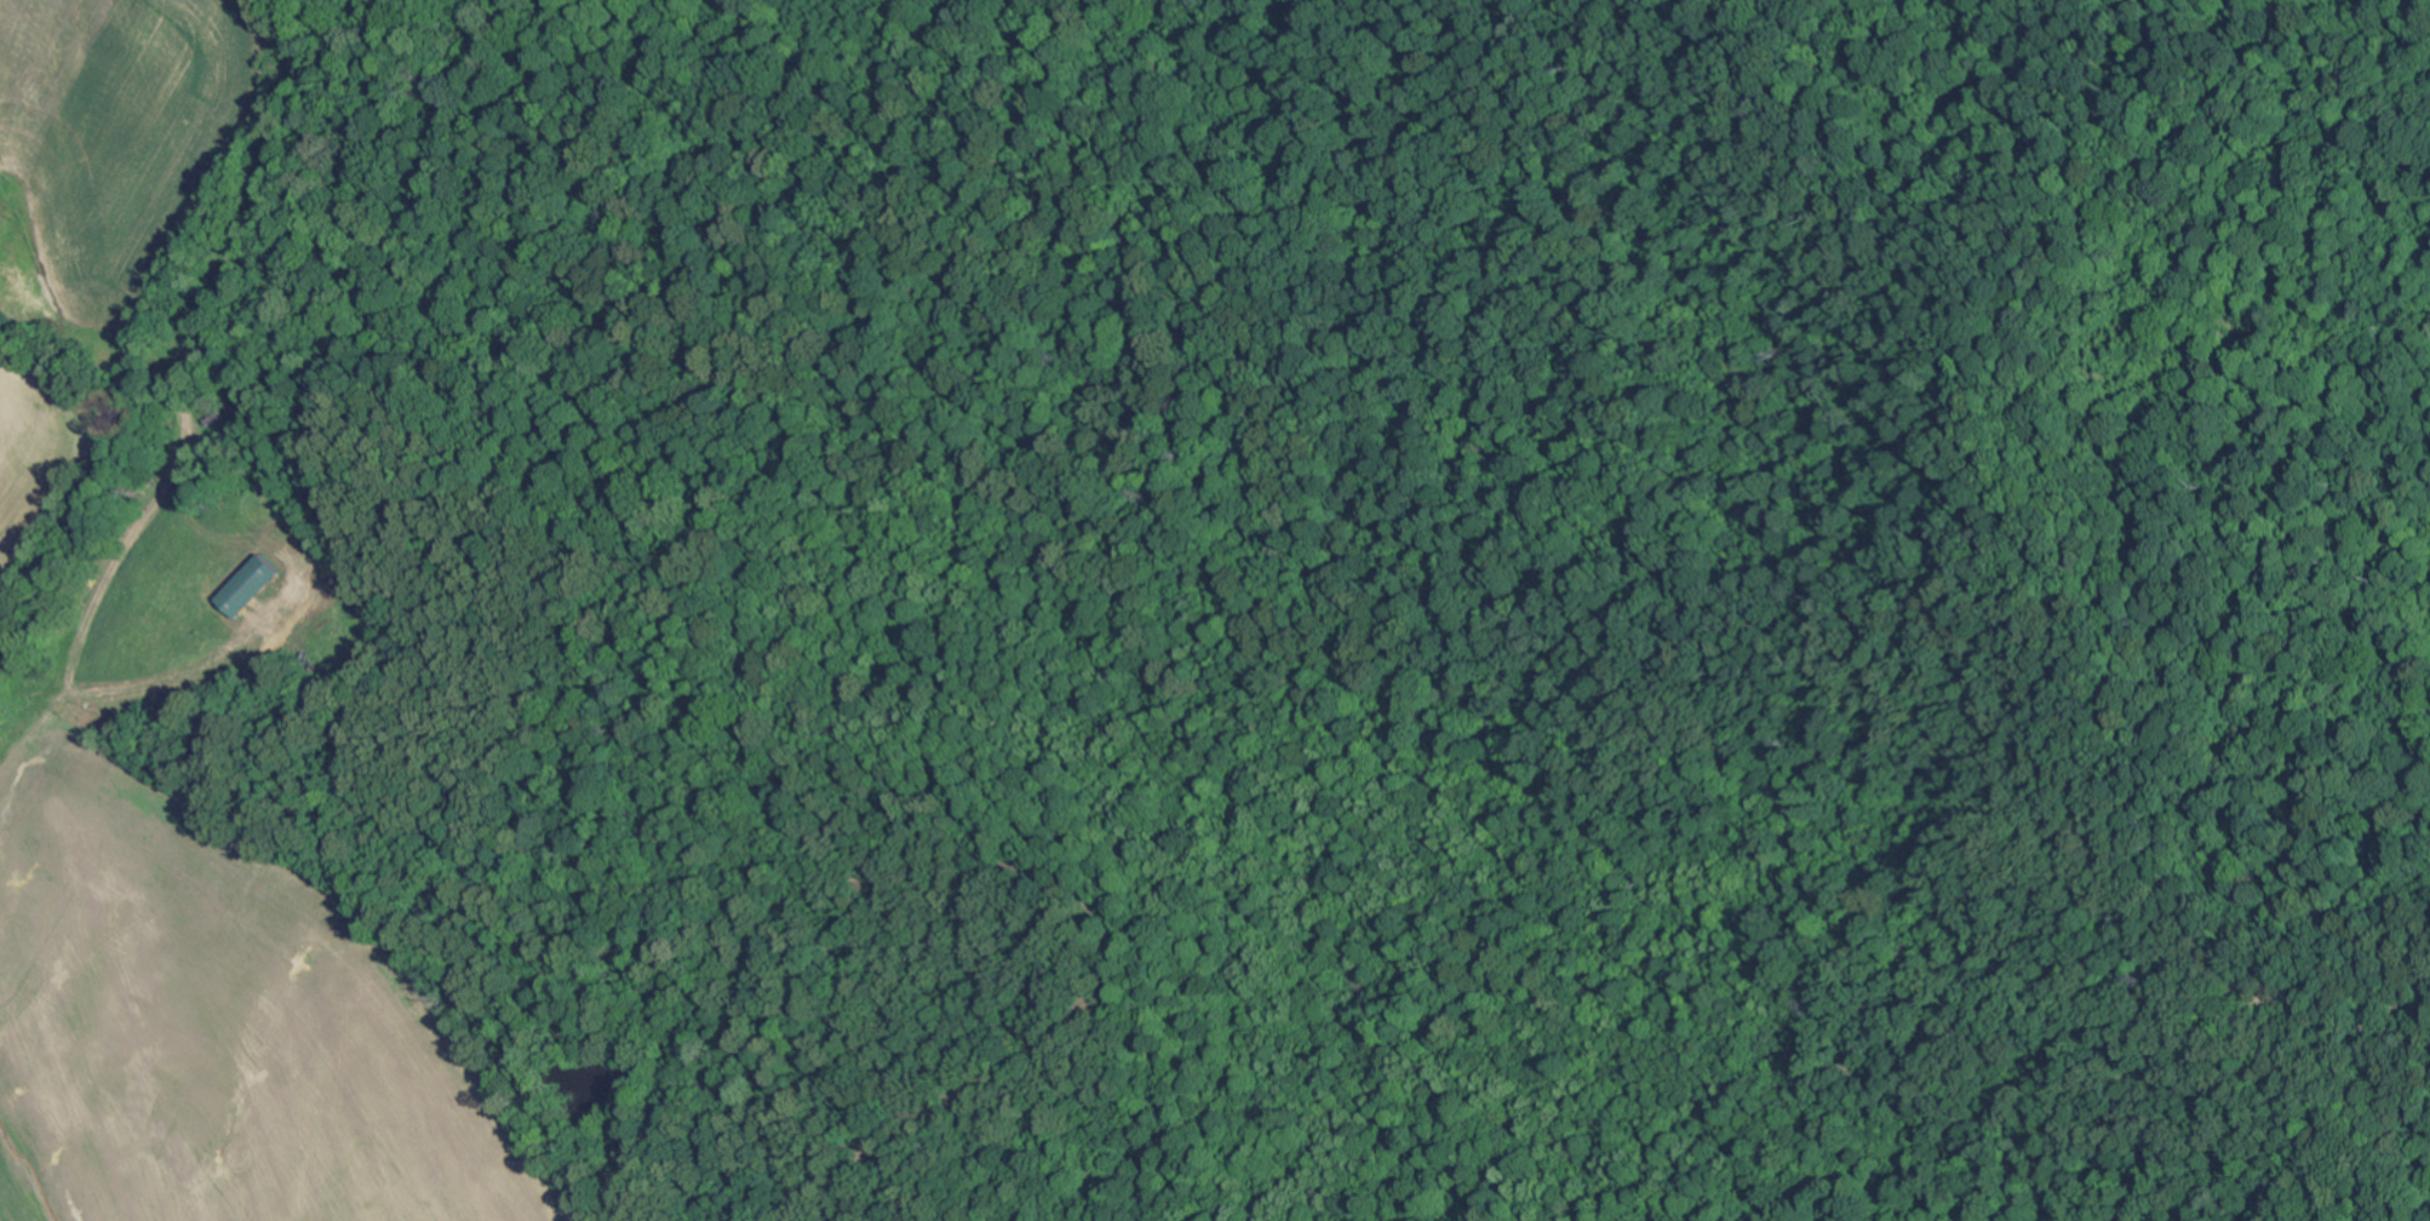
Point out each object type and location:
building: (246, 589)

